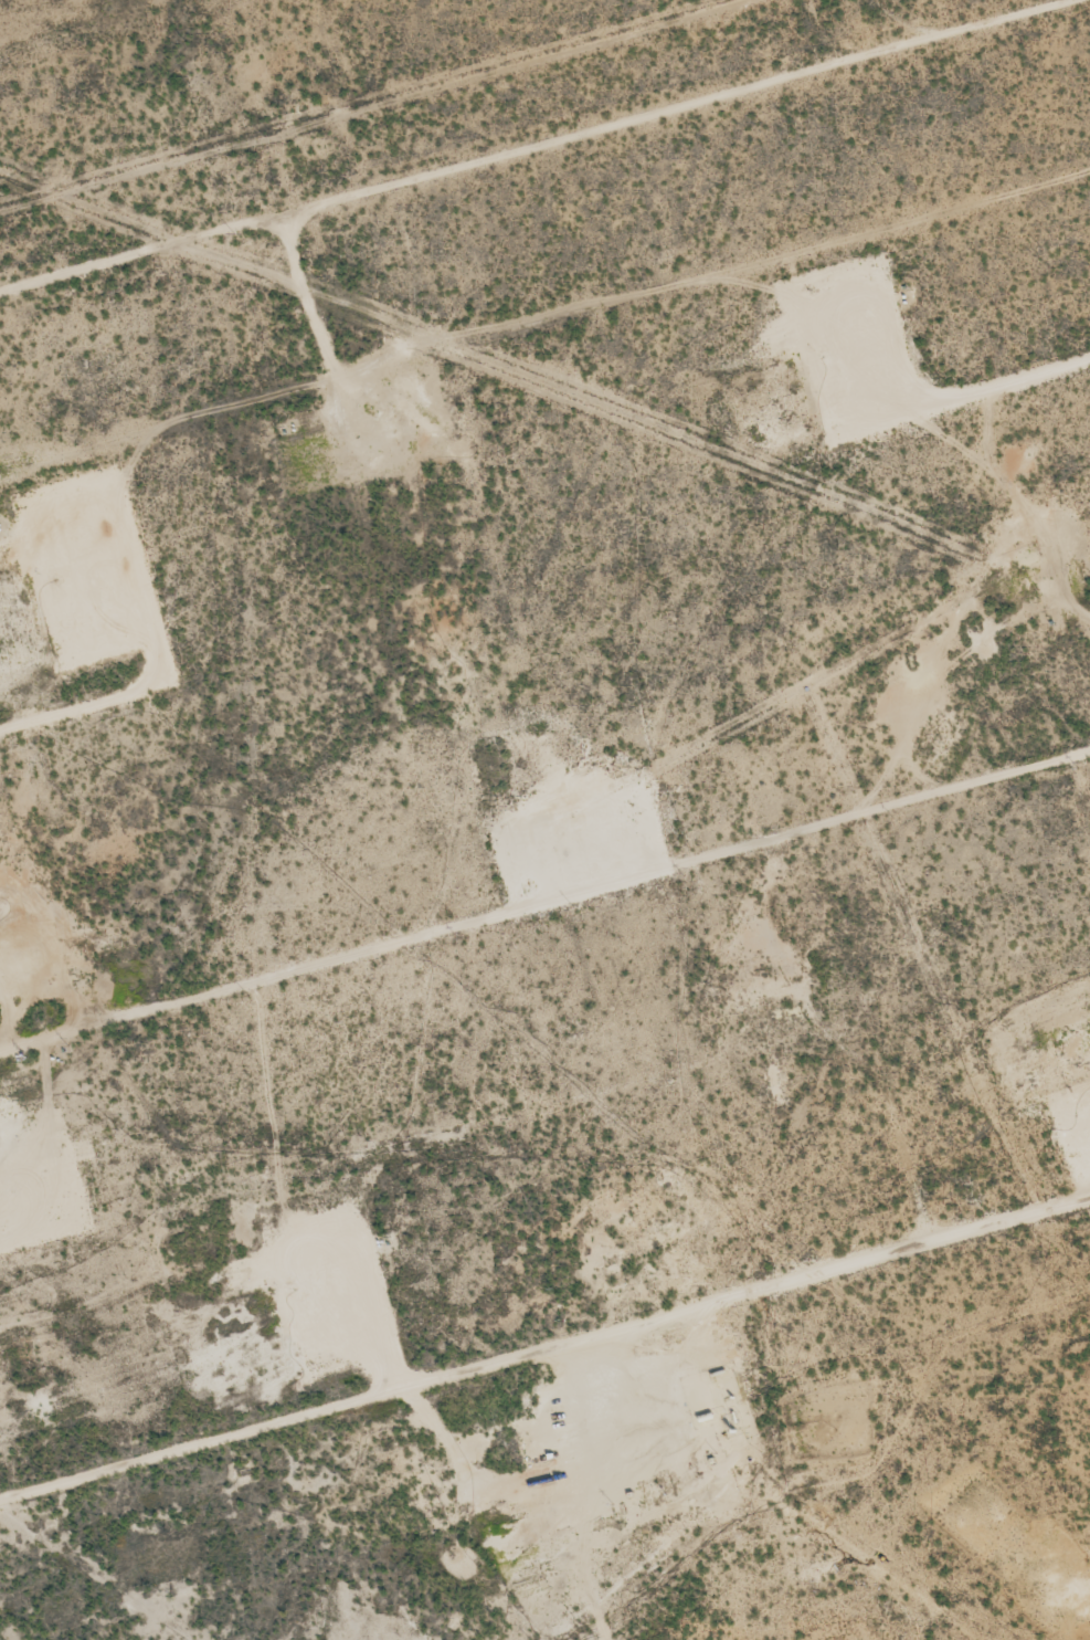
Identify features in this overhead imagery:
road: (510, 140)
road: (544, 889)
road: (544, 1323)

